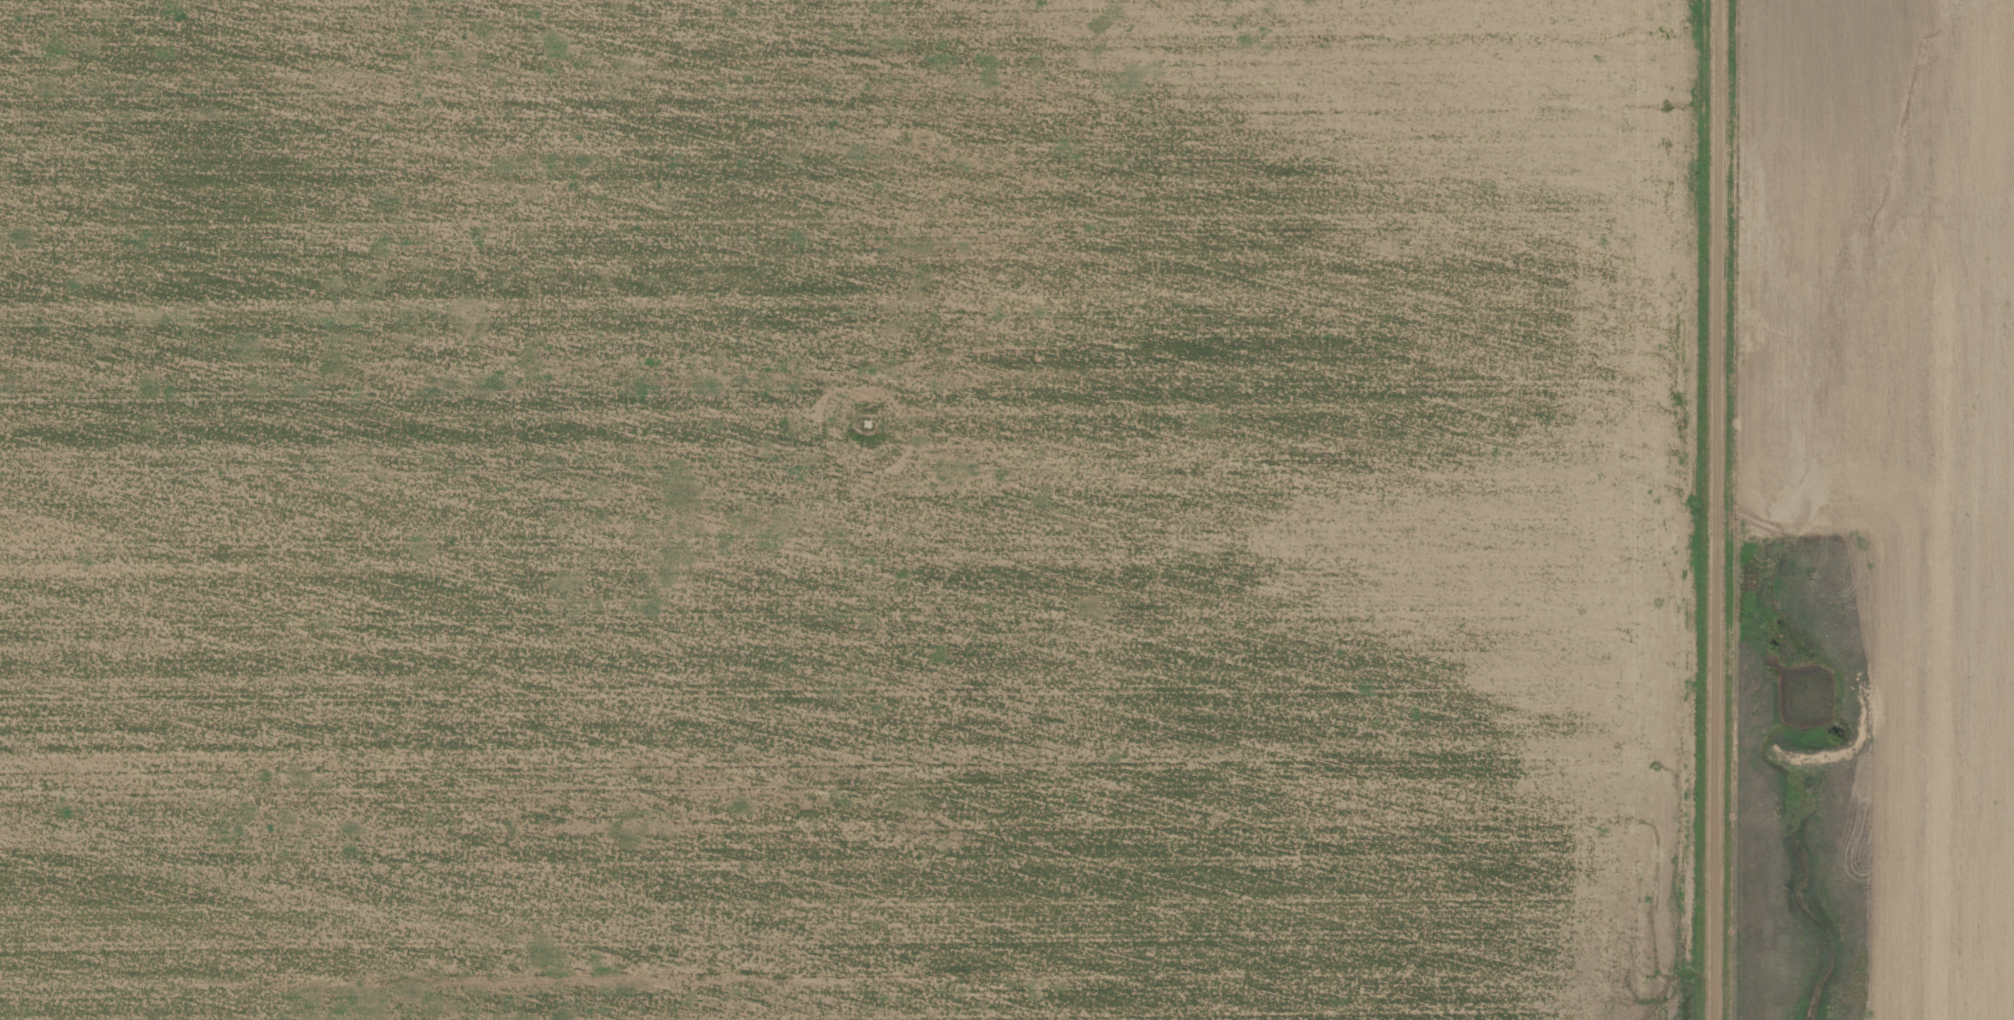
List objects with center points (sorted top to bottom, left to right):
road: (1716, 510)

